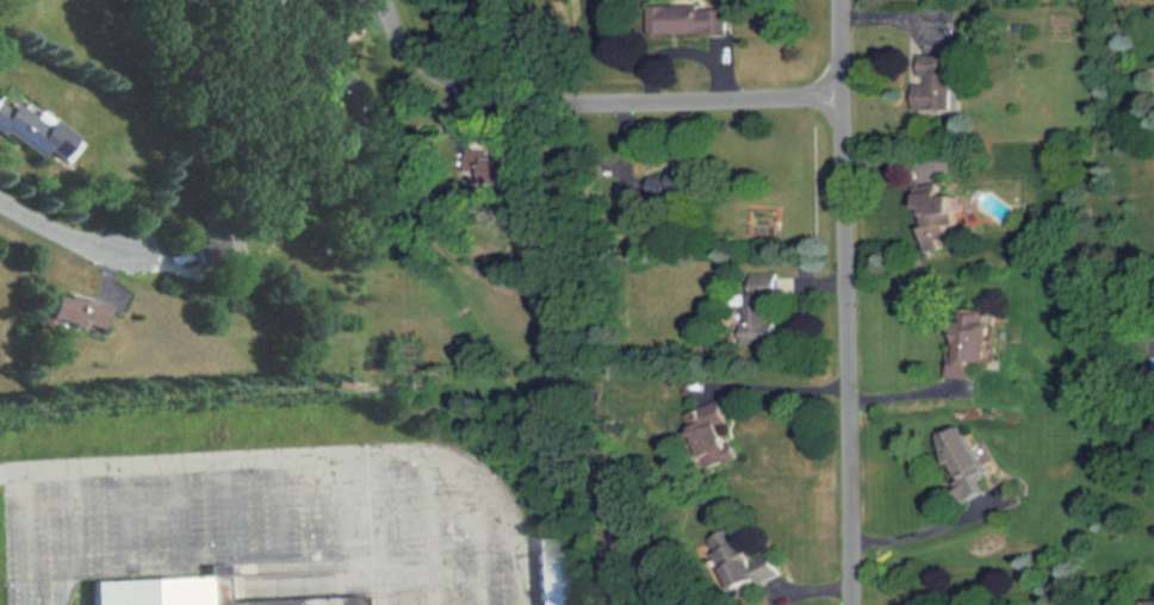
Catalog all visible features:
building: (265, 2)
building: (687, 20)
building: (936, 83)
road: (598, 101)
building: (27, 126)
building: (676, 185)
building: (941, 219)
road: (63, 231)
building: (210, 237)
road: (845, 302)
building: (80, 310)
building: (758, 310)
building: (967, 354)
road: (907, 394)
building: (715, 432)
road: (311, 456)
building: (966, 462)
road: (277, 506)
road: (129, 509)
road: (227, 509)
road: (180, 510)
road: (77, 513)
road: (428, 513)
parking lot: (268, 517)
road: (476, 522)
road: (376, 529)
road: (922, 531)
road: (29, 538)
building: (758, 568)
road: (449, 569)
building: (550, 573)
road: (432, 587)
road: (480, 587)
building: (194, 592)

